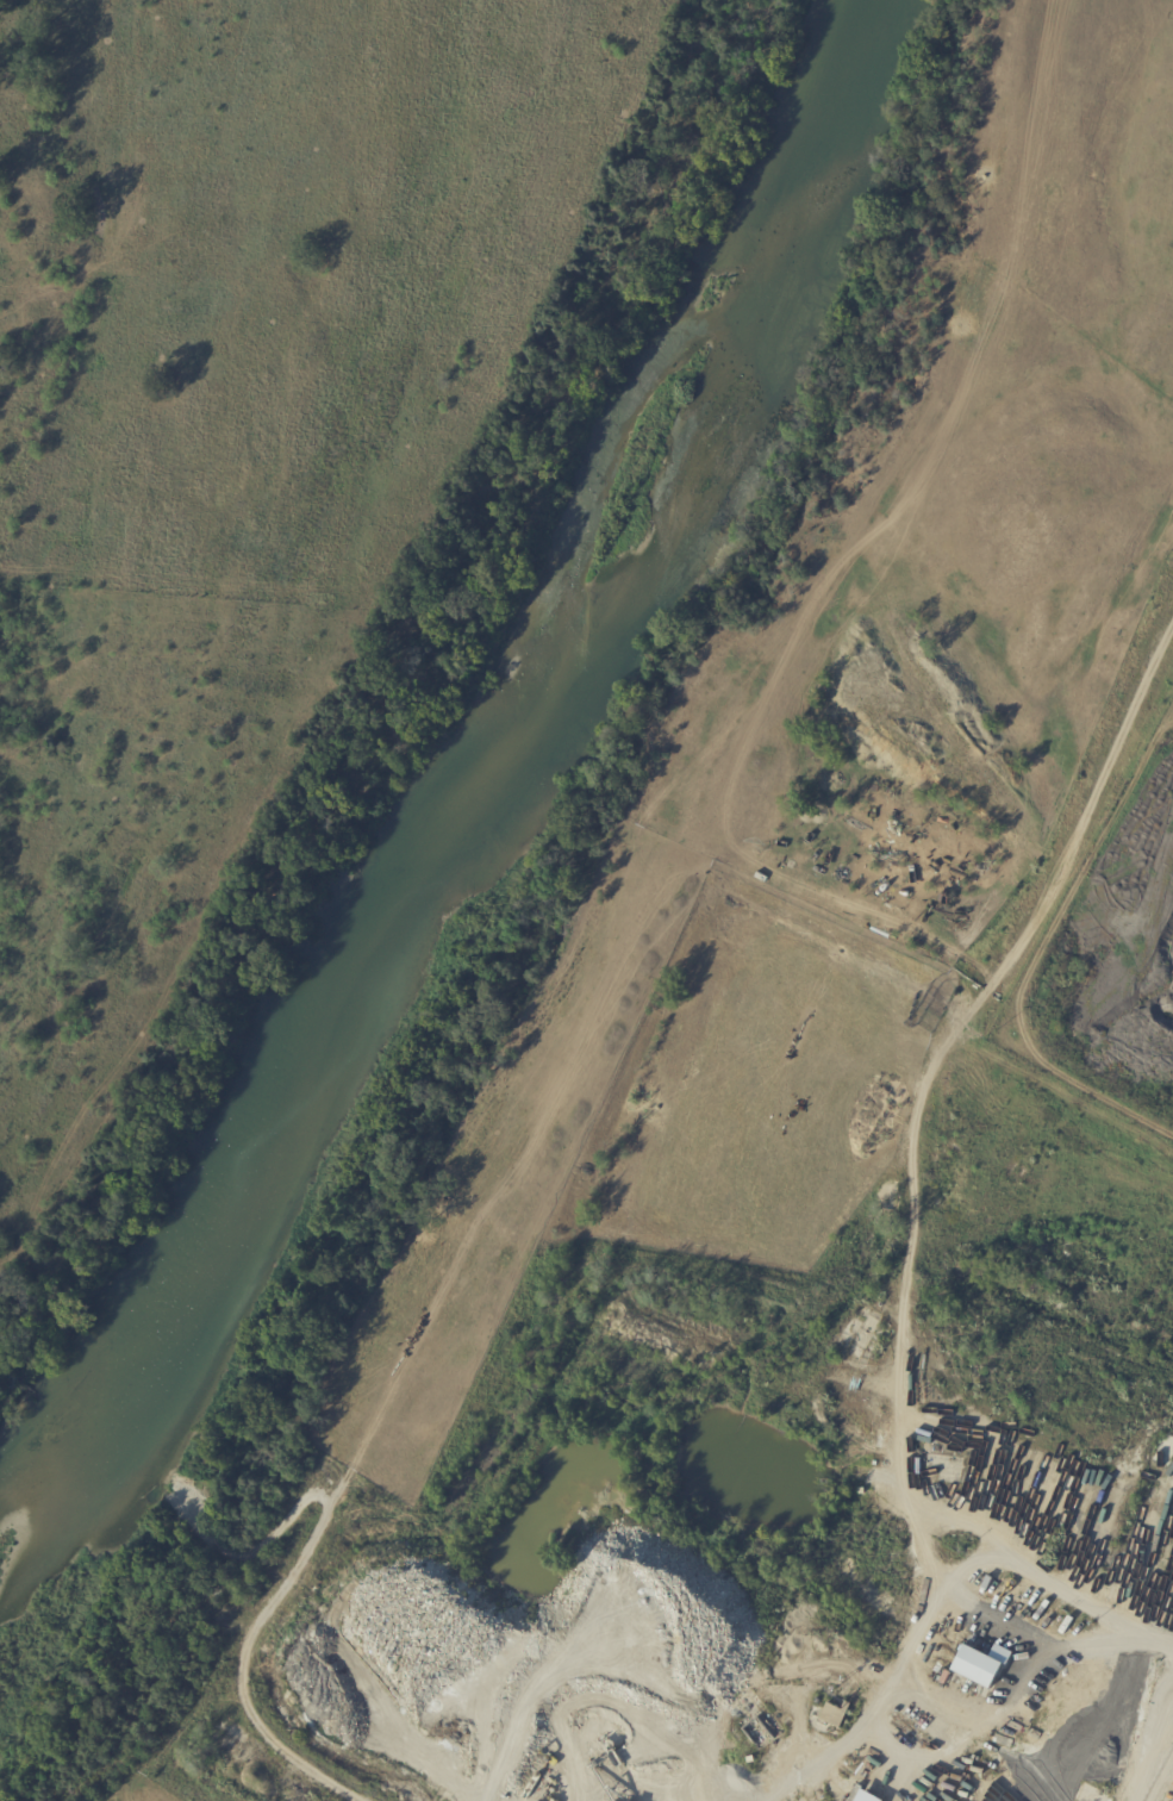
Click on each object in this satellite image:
river: (501, 792)
building: (874, 1350)
building: (866, 1490)
road: (960, 1595)
building: (954, 1645)
road: (1158, 1647)
building: (960, 1663)
building: (961, 1684)
building: (838, 1715)
building: (759, 1733)
building: (974, 1758)
building: (753, 1761)

